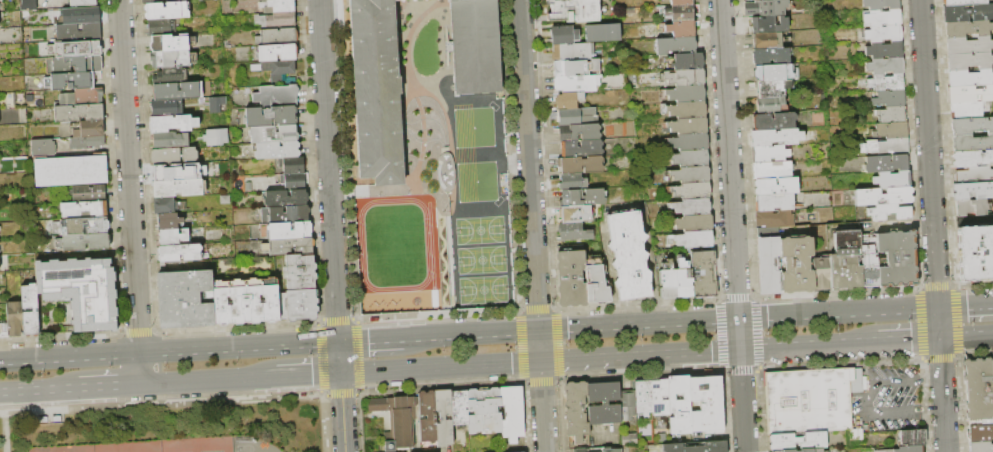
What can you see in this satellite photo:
building: (756, 0)
building: (152, 1)
building: (171, 1)
building: (81, 2)
building: (681, 2)
building: (963, 2)
building: (881, 4)
building: (29, 5)
building: (277, 6)
building: (765, 8)
building: (573, 10)
building: (166, 11)
building: (680, 12)
building: (968, 13)
building: (86, 15)
building: (882, 18)
building: (275, 20)
building: (764, 25)
building: (161, 27)
building: (968, 28)
building: (682, 29)
building: (79, 32)
building: (603, 33)
building: (884, 33)
building: (564, 35)
building: (279, 36)
building: (767, 41)
building: (169, 43)
building: (968, 45)
building: (675, 46)
building: (475, 47)
building: (884, 49)
building: (39, 52)
building: (573, 52)
building: (277, 53)
building: (770, 57)
building: (169, 59)
building: (969, 61)
building: (685, 62)
building: (77, 65)
building: (594, 65)
building: (886, 65)
building: (276, 68)
building: (569, 68)
building: (772, 74)
building: (170, 76)
building: (685, 77)
building: (970, 77)
building: (277, 80)
building: (72, 82)
building: (884, 83)
building: (577, 84)
building: (771, 89)
building: (178, 91)
building: (376, 91)
building: (686, 94)
building: (970, 94)
building: (277, 96)
building: (82, 97)
building: (890, 99)
building: (568, 100)
building: (217, 104)
building: (770, 105)
building: (167, 108)
building: (687, 110)
building: (967, 111)
building: (79, 113)
building: (891, 114)
building: (573, 115)
building: (271, 116)
building: (774, 121)
building: (172, 124)
building: (688, 126)
building: (971, 126)
park: (472, 127)
building: (90, 129)
building: (891, 130)
building: (578, 133)
building: (274, 134)
building: (216, 137)
building: (776, 137)
building: (170, 140)
building: (87, 142)
building: (688, 142)
building: (972, 142)
building: (885, 147)
building: (43, 148)
building: (581, 149)
building: (277, 151)
building: (770, 154)
building: (174, 156)
building: (690, 158)
road: (729, 159)
building: (972, 159)
road: (517, 160)
building: (885, 164)
building: (294, 165)
road: (528, 165)
building: (580, 165)
building: (772, 170)
building: (71, 172)
building: (167, 172)
road: (355, 172)
building: (691, 175)
building: (975, 175)
road: (128, 176)
building: (892, 179)
building: (295, 181)
park: (475, 181)
building: (572, 182)
road: (366, 183)
building: (776, 186)
building: (178, 188)
building: (973, 190)
building: (692, 191)
building: (90, 193)
building: (883, 196)
building: (286, 198)
building: (582, 198)
building: (775, 203)
building: (165, 206)
building: (692, 207)
building: (972, 207)
building: (84, 210)
flagpole: (442, 210)
building: (889, 213)
building: (574, 214)
building: (285, 215)
building: (774, 219)
building: (169, 222)
building: (693, 223)
road: (933, 225)
road: (331, 226)
building: (85, 227)
park: (478, 229)
building: (286, 231)
building: (574, 232)
building: (173, 237)
road: (445, 237)
building: (694, 239)
building: (86, 243)
building: (289, 247)
building: (180, 253)
building: (975, 253)
building: (629, 255)
park: (480, 259)
building: (897, 259)
building: (845, 261)
building: (796, 265)
building: (769, 266)
building: (868, 266)
building: (300, 273)
building: (703, 274)
building: (820, 274)
building: (571, 278)
building: (683, 280)
building: (667, 281)
building: (596, 282)
park: (481, 288)
building: (81, 291)
building: (184, 299)
building: (246, 302)
building: (297, 305)
road: (965, 305)
traffic signals: (938, 307)
building: (30, 310)
road: (838, 313)
building: (15, 319)
traffic signals: (738, 319)
road: (638, 324)
building: (4, 330)
traffic signals: (538, 330)
road: (470, 334)
road: (739, 334)
road: (966, 335)
traffic signals: (940, 337)
road: (909, 339)
road: (370, 340)
traffic signals: (338, 342)
road: (539, 345)
road: (809, 345)
traffic signals: (740, 349)
road: (168, 351)
road: (640, 355)
traffic signals: (540, 361)
road: (440, 366)
road: (139, 368)
traffic signals: (340, 372)
road: (306, 373)
road: (931, 378)
road: (207, 380)
road: (108, 386)
road: (38, 389)
building: (979, 391)
road: (872, 397)
parking lot: (891, 397)
building: (644, 398)
building: (660, 398)
road: (743, 400)
building: (811, 400)
building: (604, 404)
building: (628, 405)
building: (706, 405)
road: (542, 406)
building: (680, 406)
building: (460, 408)
road: (933, 410)
building: (484, 411)
building: (576, 411)
building: (512, 413)
building: (427, 416)
building: (444, 418)
building: (397, 420)
building: (980, 434)
building: (913, 438)
building: (797, 442)
parking lot: (251, 445)
building: (697, 447)
building: (981, 447)
building: (906, 449)
building: (579, 450)
building: (595, 450)
building: (610, 450)
park: (210, 451)
building: (790, 451)

